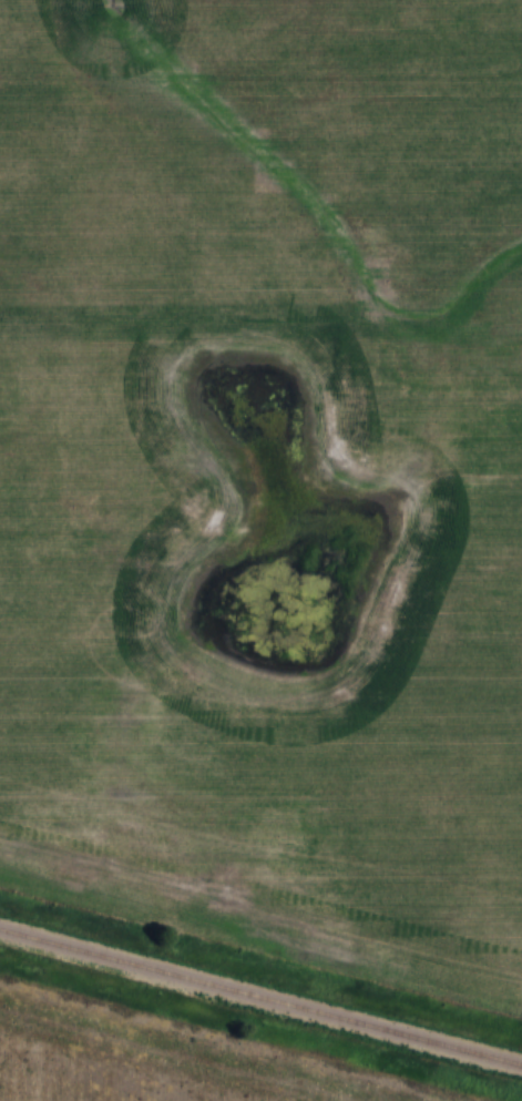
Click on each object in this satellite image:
railway: (260, 995)

